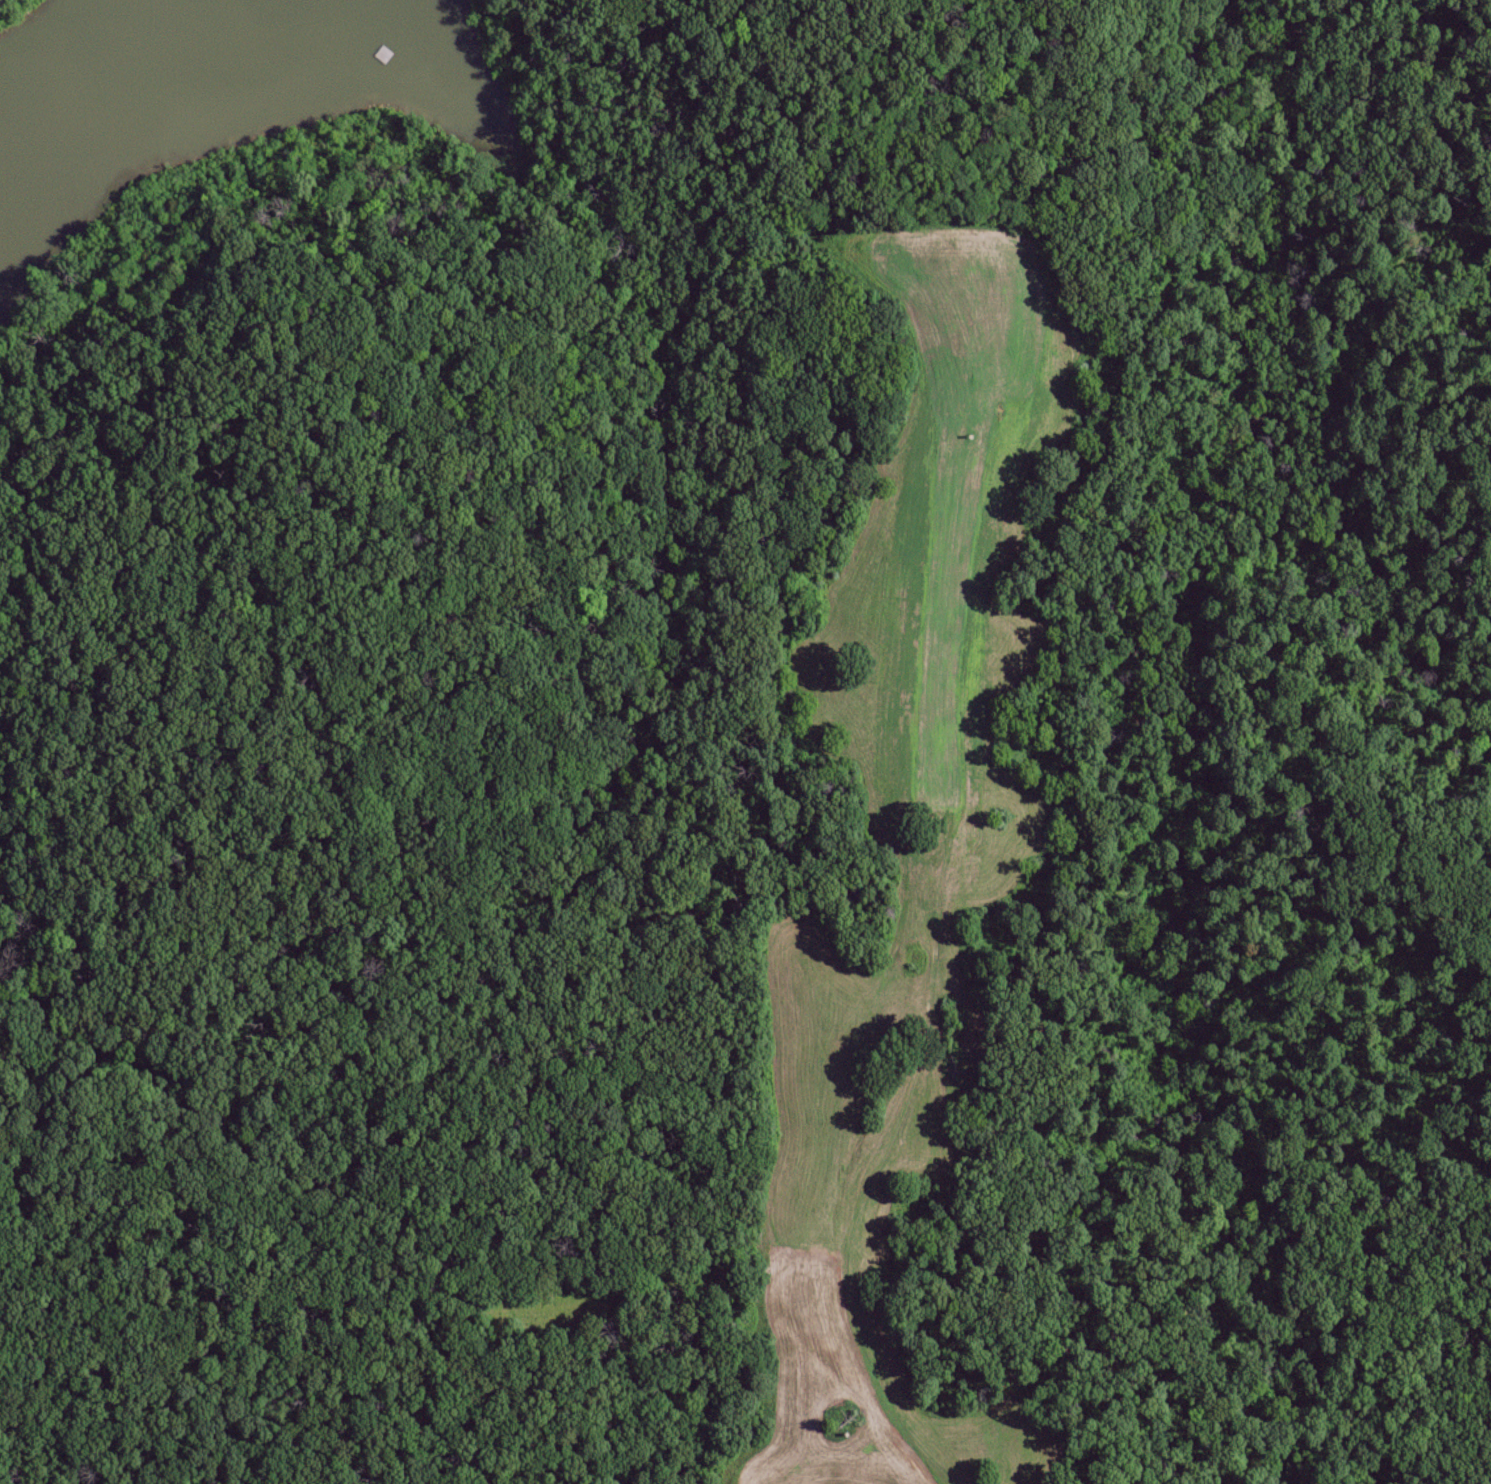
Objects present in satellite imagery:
road: (9, 9)
road: (1255, 54)
road: (338, 170)

